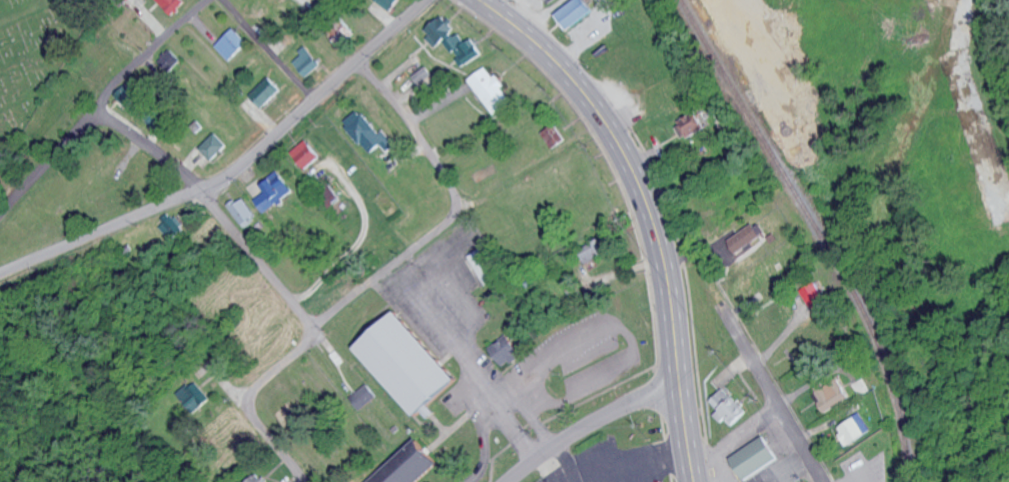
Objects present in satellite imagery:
building: (550, 1)
building: (391, 3)
building: (175, 5)
building: (576, 13)
building: (441, 30)
building: (233, 44)
building: (465, 49)
road: (271, 50)
park: (33, 60)
building: (172, 60)
building: (309, 62)
building: (426, 77)
building: (493, 90)
building: (269, 92)
building: (130, 95)
road: (101, 107)
building: (694, 124)
building: (370, 132)
building: (556, 136)
building: (216, 146)
building: (310, 154)
road: (234, 171)
building: (277, 192)
road: (214, 211)
building: (245, 212)
road: (644, 212)
road: (448, 215)
railway: (814, 234)
building: (747, 239)
building: (597, 250)
building: (485, 265)
building: (769, 269)
building: (504, 350)
building: (407, 361)
road: (469, 371)
road: (236, 394)
road: (774, 394)
building: (192, 395)
building: (833, 395)
building: (363, 396)
road: (248, 404)
building: (728, 407)
road: (586, 425)
building: (856, 428)
road: (478, 441)
building: (756, 457)
road: (657, 460)
building: (409, 464)
road: (553, 466)
road: (610, 472)
building: (256, 479)

